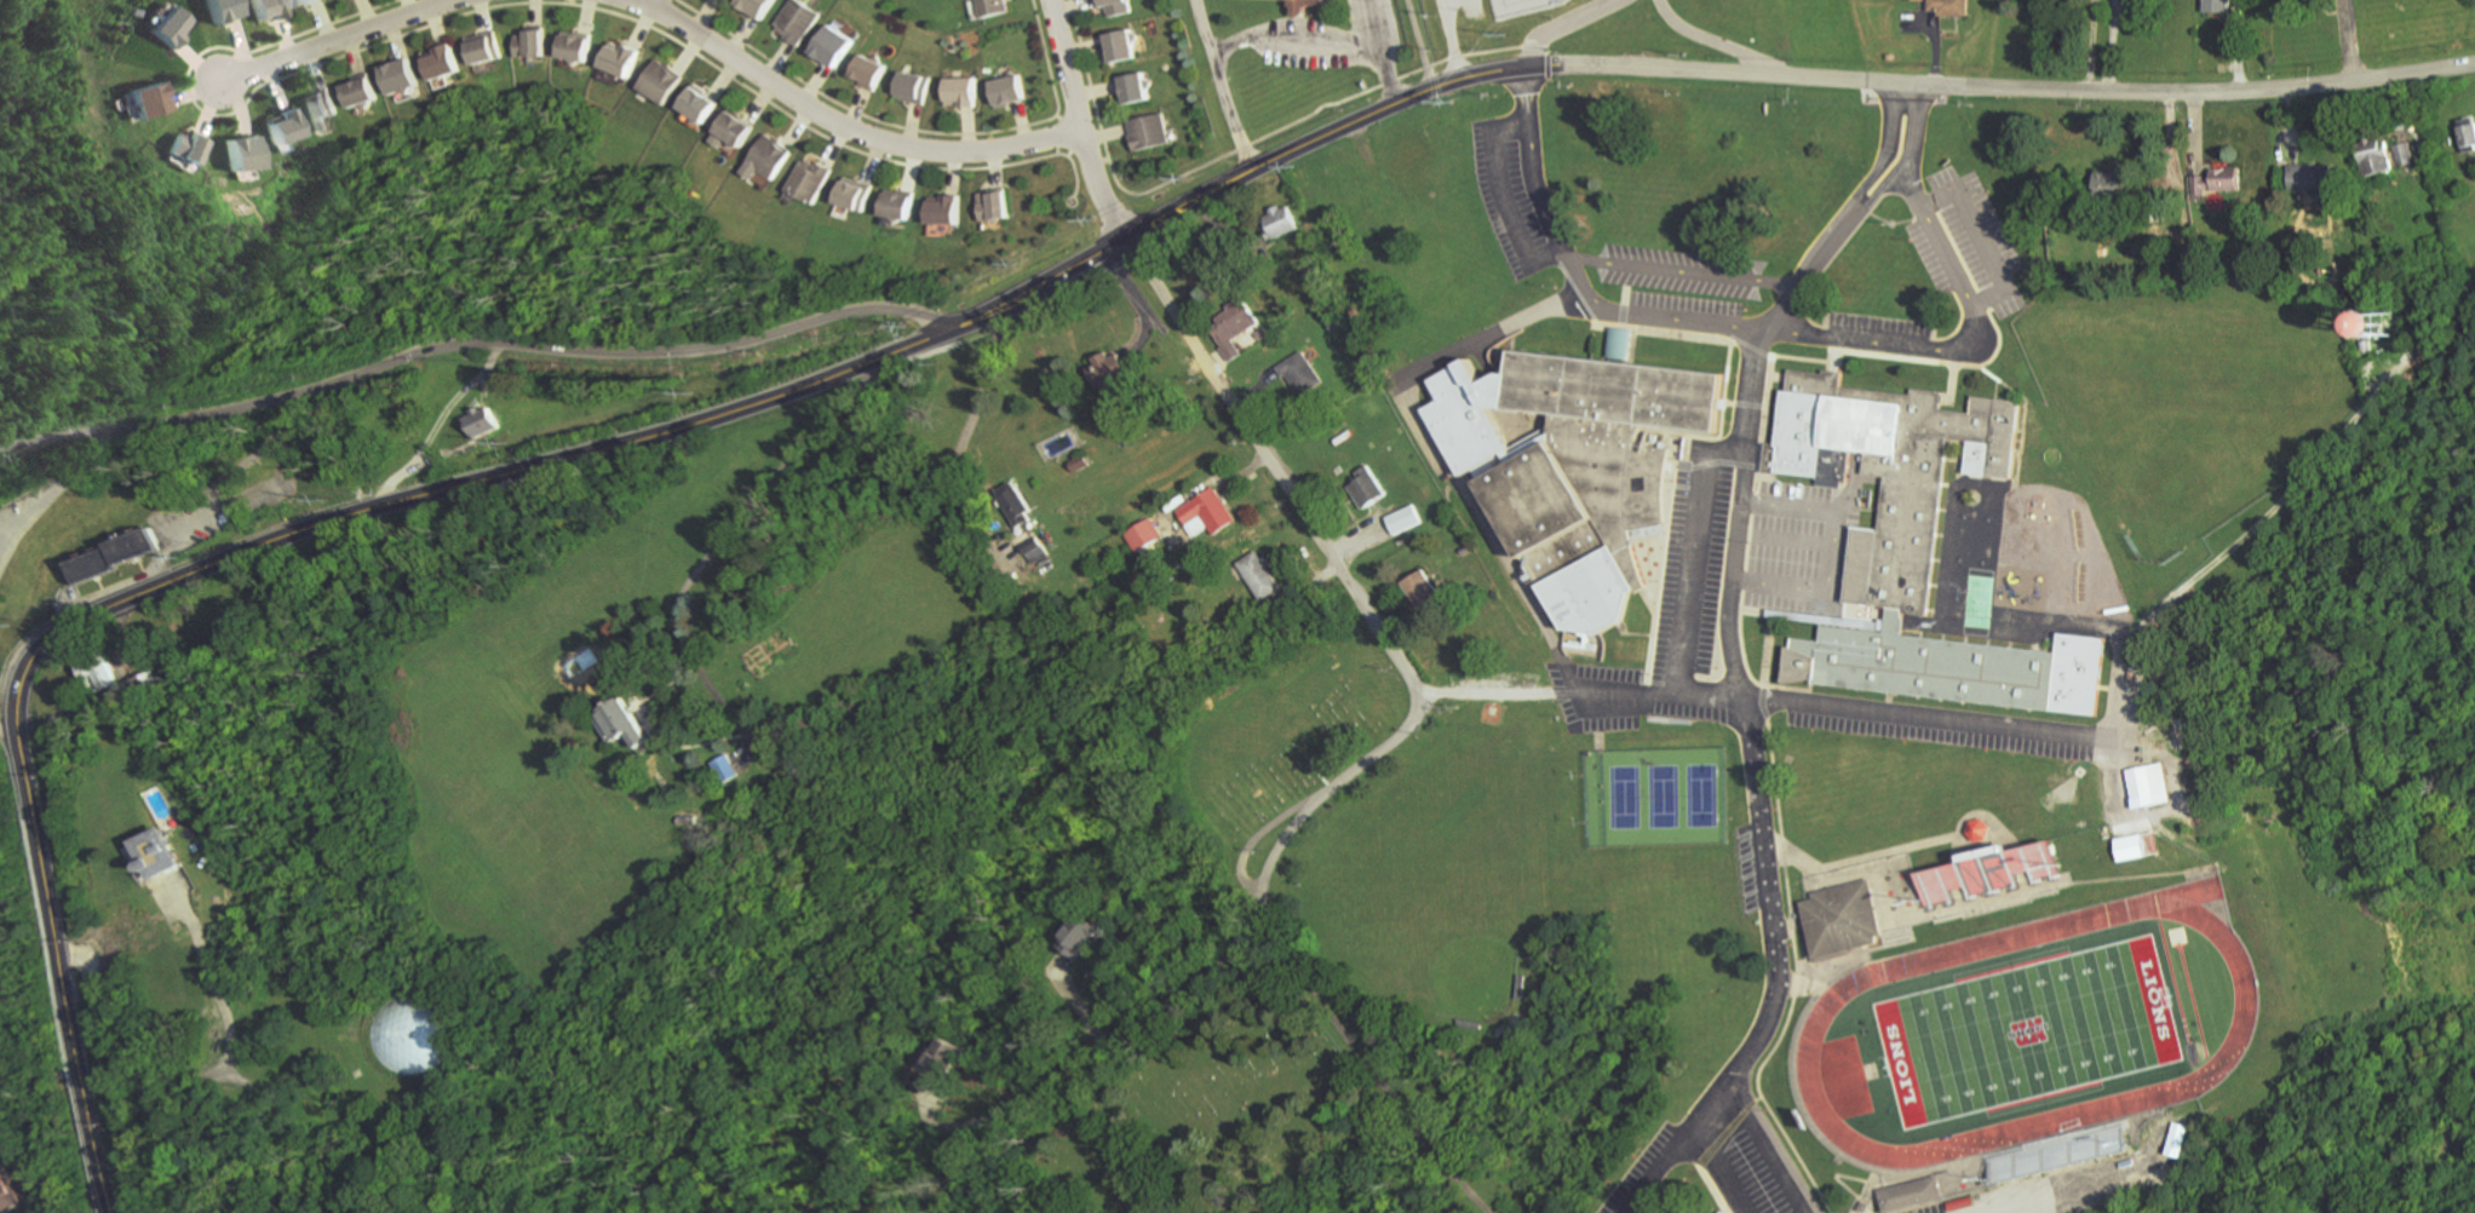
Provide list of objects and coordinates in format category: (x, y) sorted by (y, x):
building: (300, 2)
road: (651, 4)
building: (1310, 5)
road: (503, 6)
building: (753, 6)
power substation: (1526, 6)
building: (2217, 6)
building: (992, 7)
building: (1114, 7)
building: (1949, 7)
building: (260, 8)
building: (213, 11)
building: (794, 22)
road: (1569, 25)
road: (644, 27)
building: (160, 29)
road: (1294, 34)
road: (335, 40)
road: (2349, 40)
road: (1423, 44)
road: (1722, 44)
building: (528, 45)
building: (574, 46)
building: (828, 46)
building: (1119, 47)
building: (482, 48)
road: (1538, 48)
road: (1382, 52)
road: (1050, 57)
building: (618, 59)
building: (440, 63)
road: (1551, 67)
building: (866, 71)
road: (1782, 76)
building: (397, 77)
building: (659, 82)
building: (911, 87)
road: (1217, 87)
building: (1131, 90)
building: (1005, 91)
building: (357, 92)
building: (959, 92)
road: (1098, 93)
road: (194, 94)
building: (139, 102)
building: (695, 104)
building: (317, 109)
road: (856, 111)
road: (1062, 117)
road: (1083, 122)
road: (845, 123)
building: (278, 127)
building: (729, 131)
building: (1147, 132)
building: (2467, 133)
road: (1068, 136)
road: (1110, 138)
building: (180, 148)
road: (1889, 149)
building: (2404, 154)
building: (235, 155)
road: (1072, 155)
road: (1230, 155)
road: (1910, 156)
building: (2374, 157)
building: (766, 159)
road: (1107, 161)
road: (1098, 162)
building: (2309, 177)
building: (808, 182)
building: (2217, 182)
building: (2112, 184)
road: (1080, 190)
building: (854, 195)
road: (1501, 196)
building: (897, 206)
building: (993, 206)
building: (943, 211)
building: (1279, 223)
flagpole: (1895, 226)
road: (1982, 236)
road: (1099, 258)
road: (1684, 271)
water tower: (2379, 311)
building: (2376, 316)
building: (1231, 327)
road: (1748, 329)
road: (471, 344)
road: (1836, 357)
building: (1107, 368)
building: (1302, 373)
park: (2184, 373)
road: (1953, 381)
park: (2192, 396)
road: (974, 398)
road: (2029, 399)
building: (478, 422)
road: (441, 426)
road: (1441, 447)
road: (258, 459)
building: (1079, 462)
building: (1575, 466)
building: (1891, 477)
road: (779, 478)
building: (1366, 487)
road: (59, 489)
road: (251, 502)
building: (1015, 504)
building: (1207, 510)
building: (1402, 519)
building: (1144, 534)
park: (1970, 539)
road: (276, 540)
road: (172, 542)
road: (1774, 545)
building: (1035, 550)
road: (1822, 551)
road: (1695, 553)
building: (109, 554)
building: (1258, 575)
building: (1422, 590)
park: (1975, 603)
road: (1807, 617)
road: (1768, 649)
building: (1958, 668)
building: (96, 674)
road: (1736, 682)
road: (1763, 701)
road: (1810, 702)
road: (1748, 719)
building: (619, 720)
road: (8, 735)
road: (1391, 745)
building: (724, 768)
building: (2154, 788)
park: (1480, 789)
park: (1658, 799)
road: (2177, 811)
building: (2140, 849)
road: (1878, 858)
building: (1991, 876)
track: (2176, 898)
building: (1843, 920)
park: (1437, 927)
building: (1079, 935)
park: (1240, 948)
road: (1162, 1014)
track: (1816, 1023)
track: (2028, 1030)
building: (410, 1031)
storage tank: (410, 1031)
park: (2029, 1031)
building: (937, 1059)
road: (199, 1075)
road: (1727, 1133)
building: (2178, 1139)
road: (167, 1144)
road: (1770, 1146)
building: (2060, 1155)
road: (1006, 1160)
road: (1718, 1171)
road: (23, 1175)
road: (967, 1185)
building: (4, 1191)
road: (2060, 1194)
building: (1912, 1197)
building: (1665, 1206)

